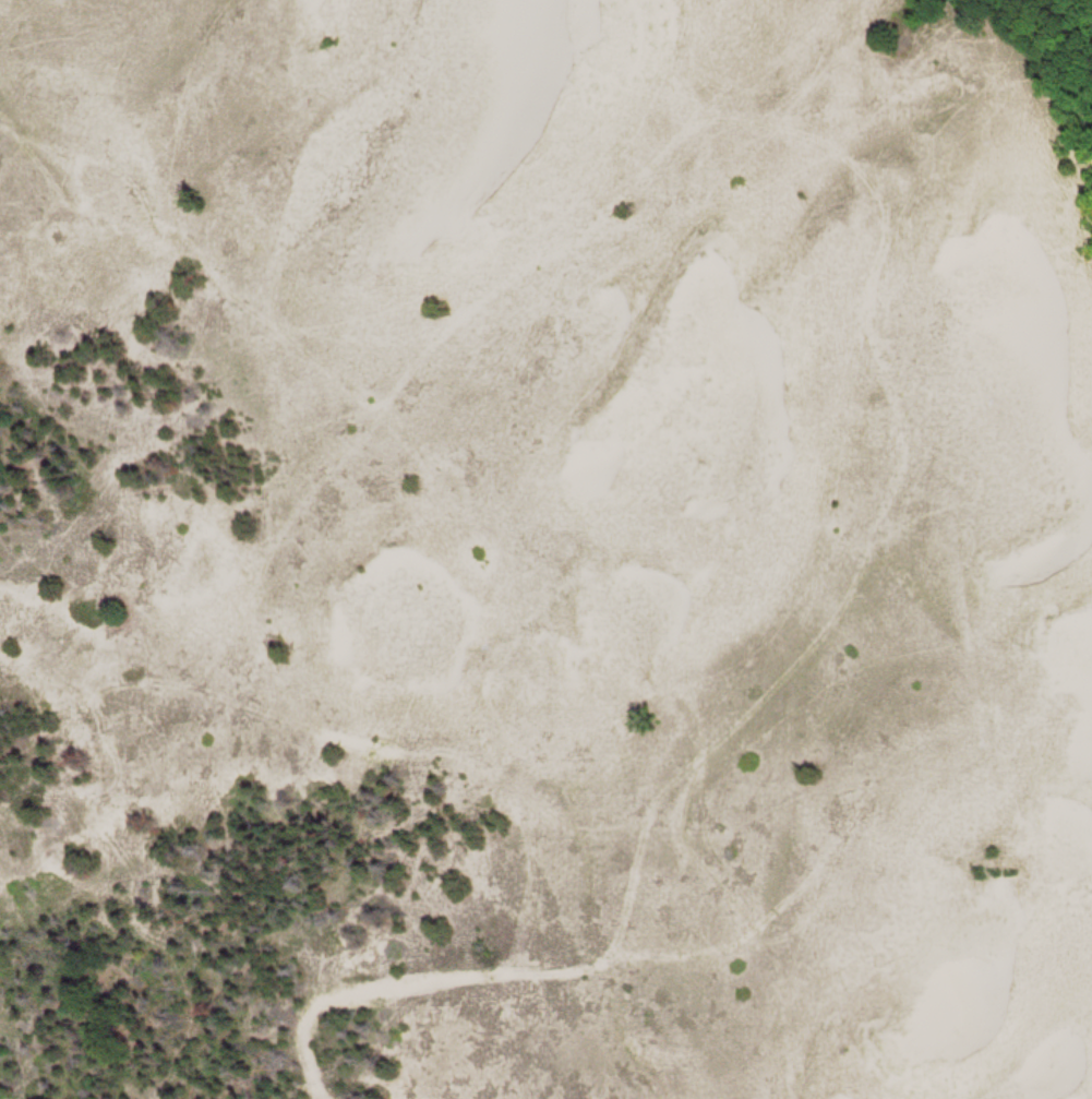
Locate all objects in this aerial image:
park: (545, 549)

